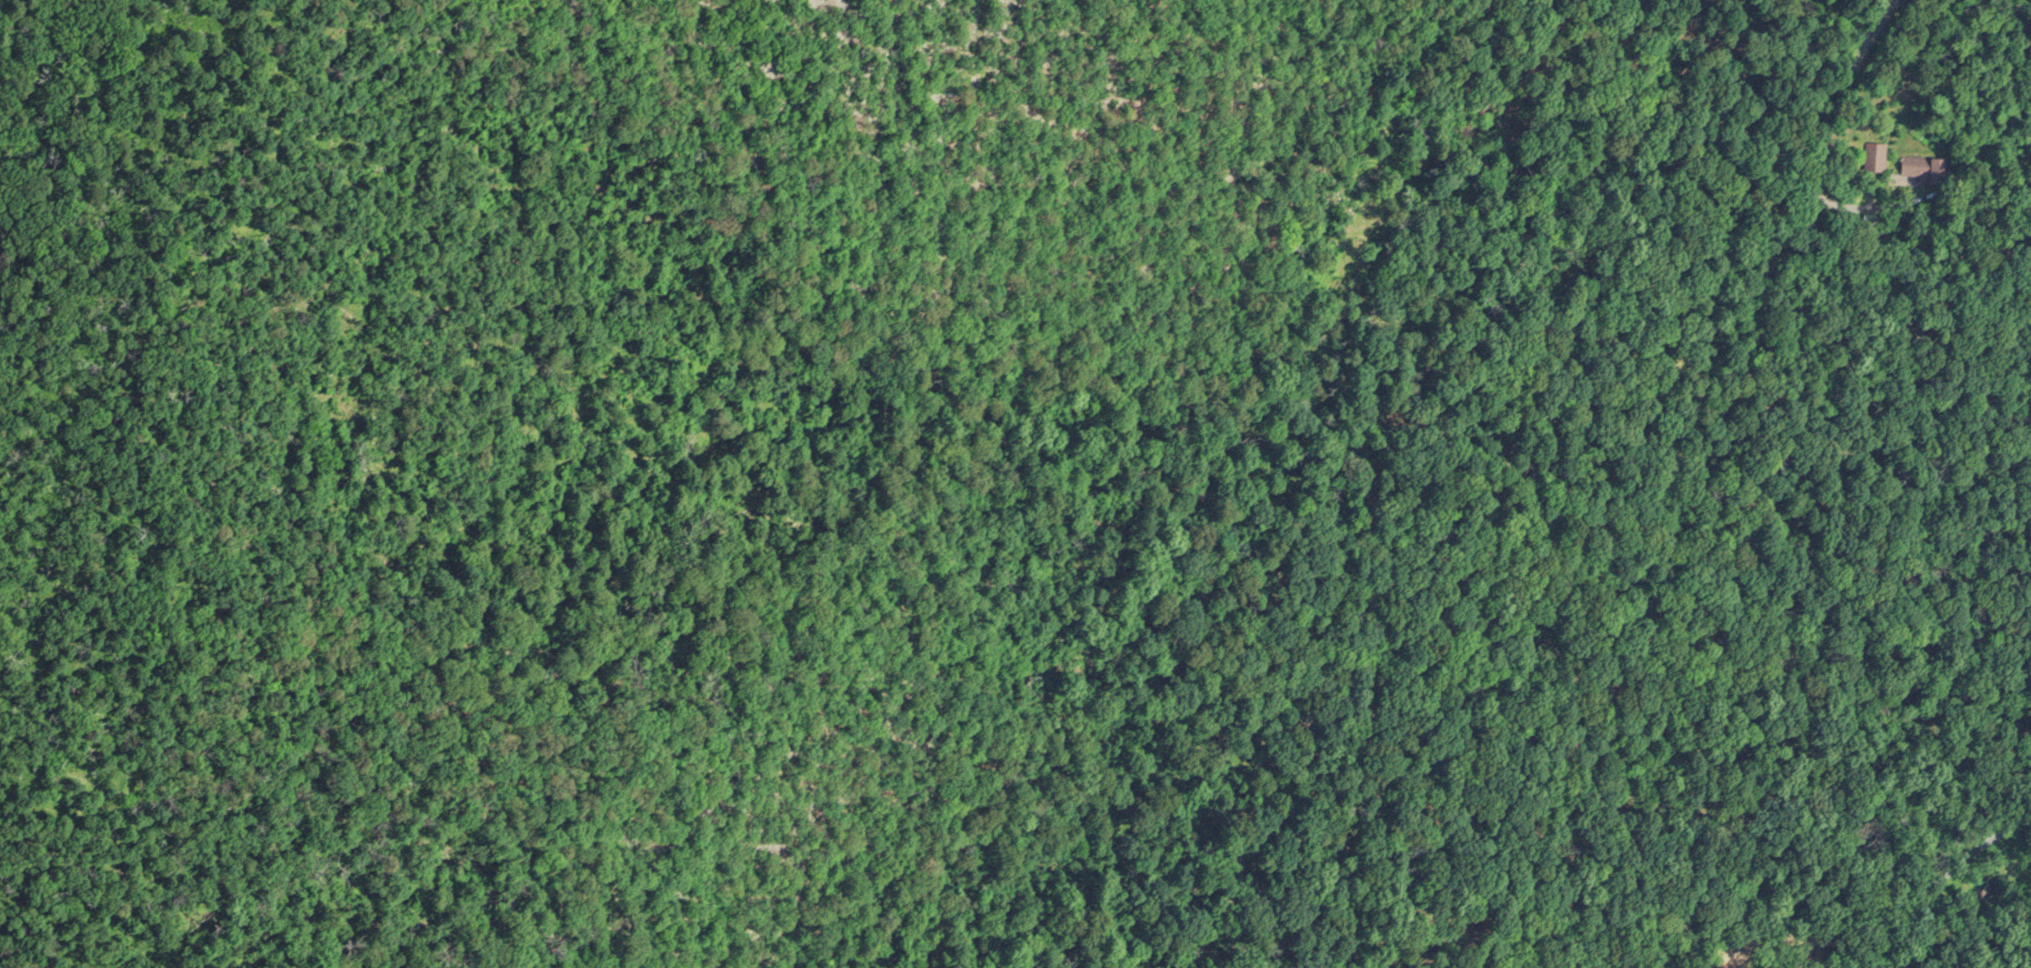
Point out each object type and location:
road: (1836, 87)
building: (1875, 153)
building: (1922, 164)
road: (1831, 203)
road: (1930, 892)

